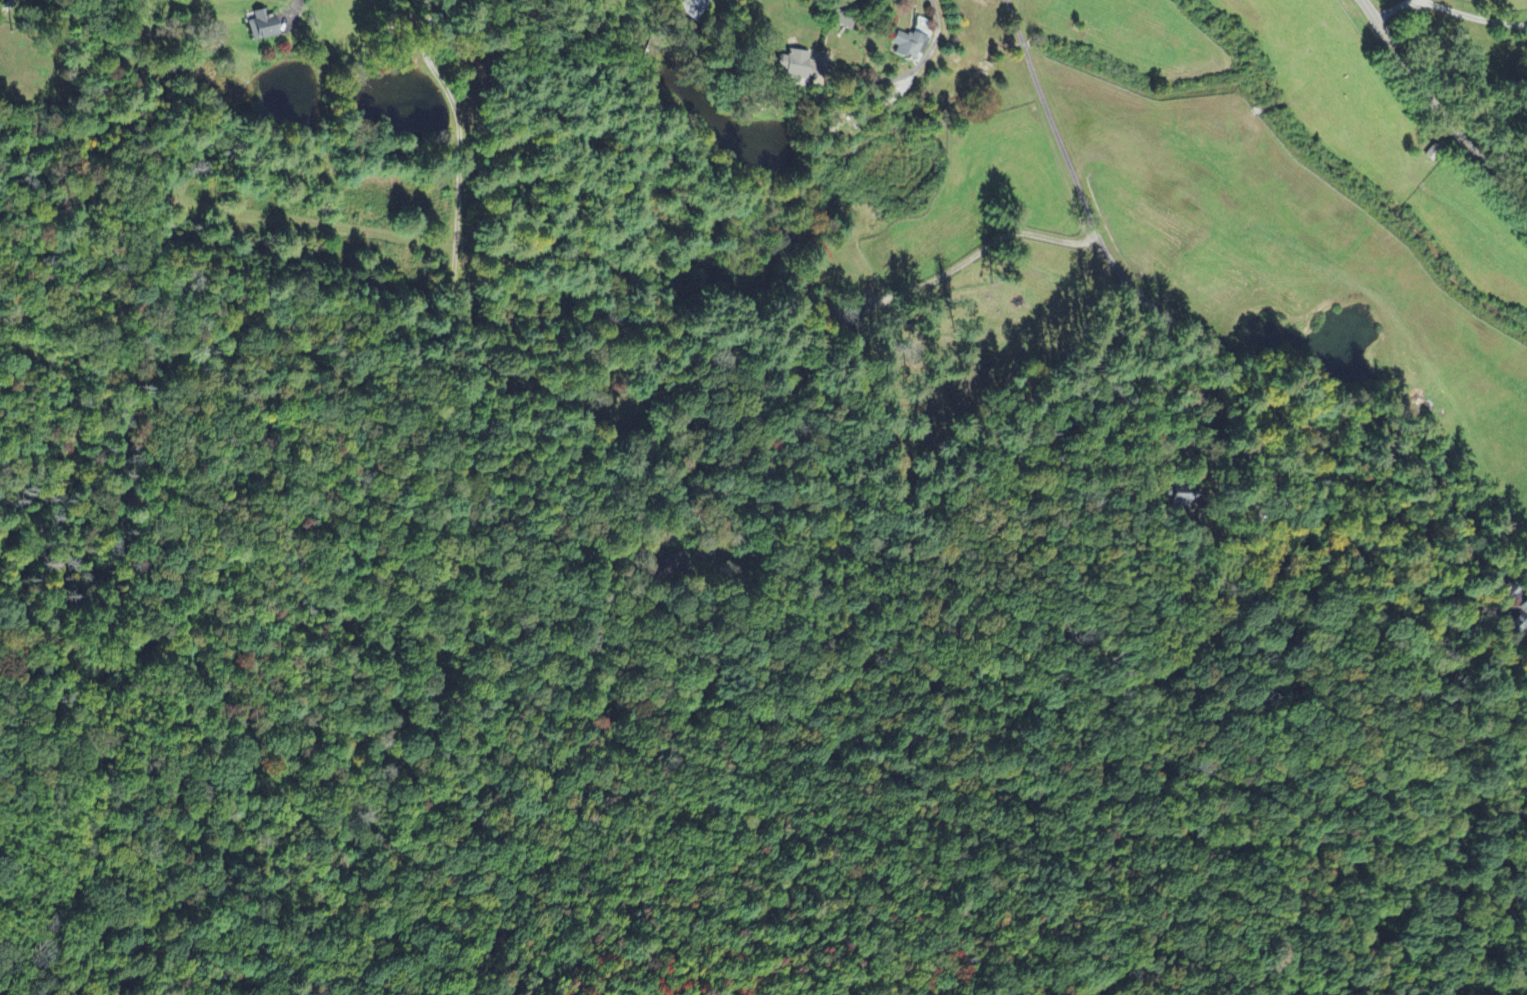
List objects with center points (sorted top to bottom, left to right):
road: (918, 2)
road: (299, 10)
road: (1449, 23)
building: (266, 27)
building: (909, 47)
building: (797, 64)
road: (1436, 110)
road: (455, 182)
road: (1216, 380)
road: (74, 431)
building: (1521, 618)
road: (694, 723)

